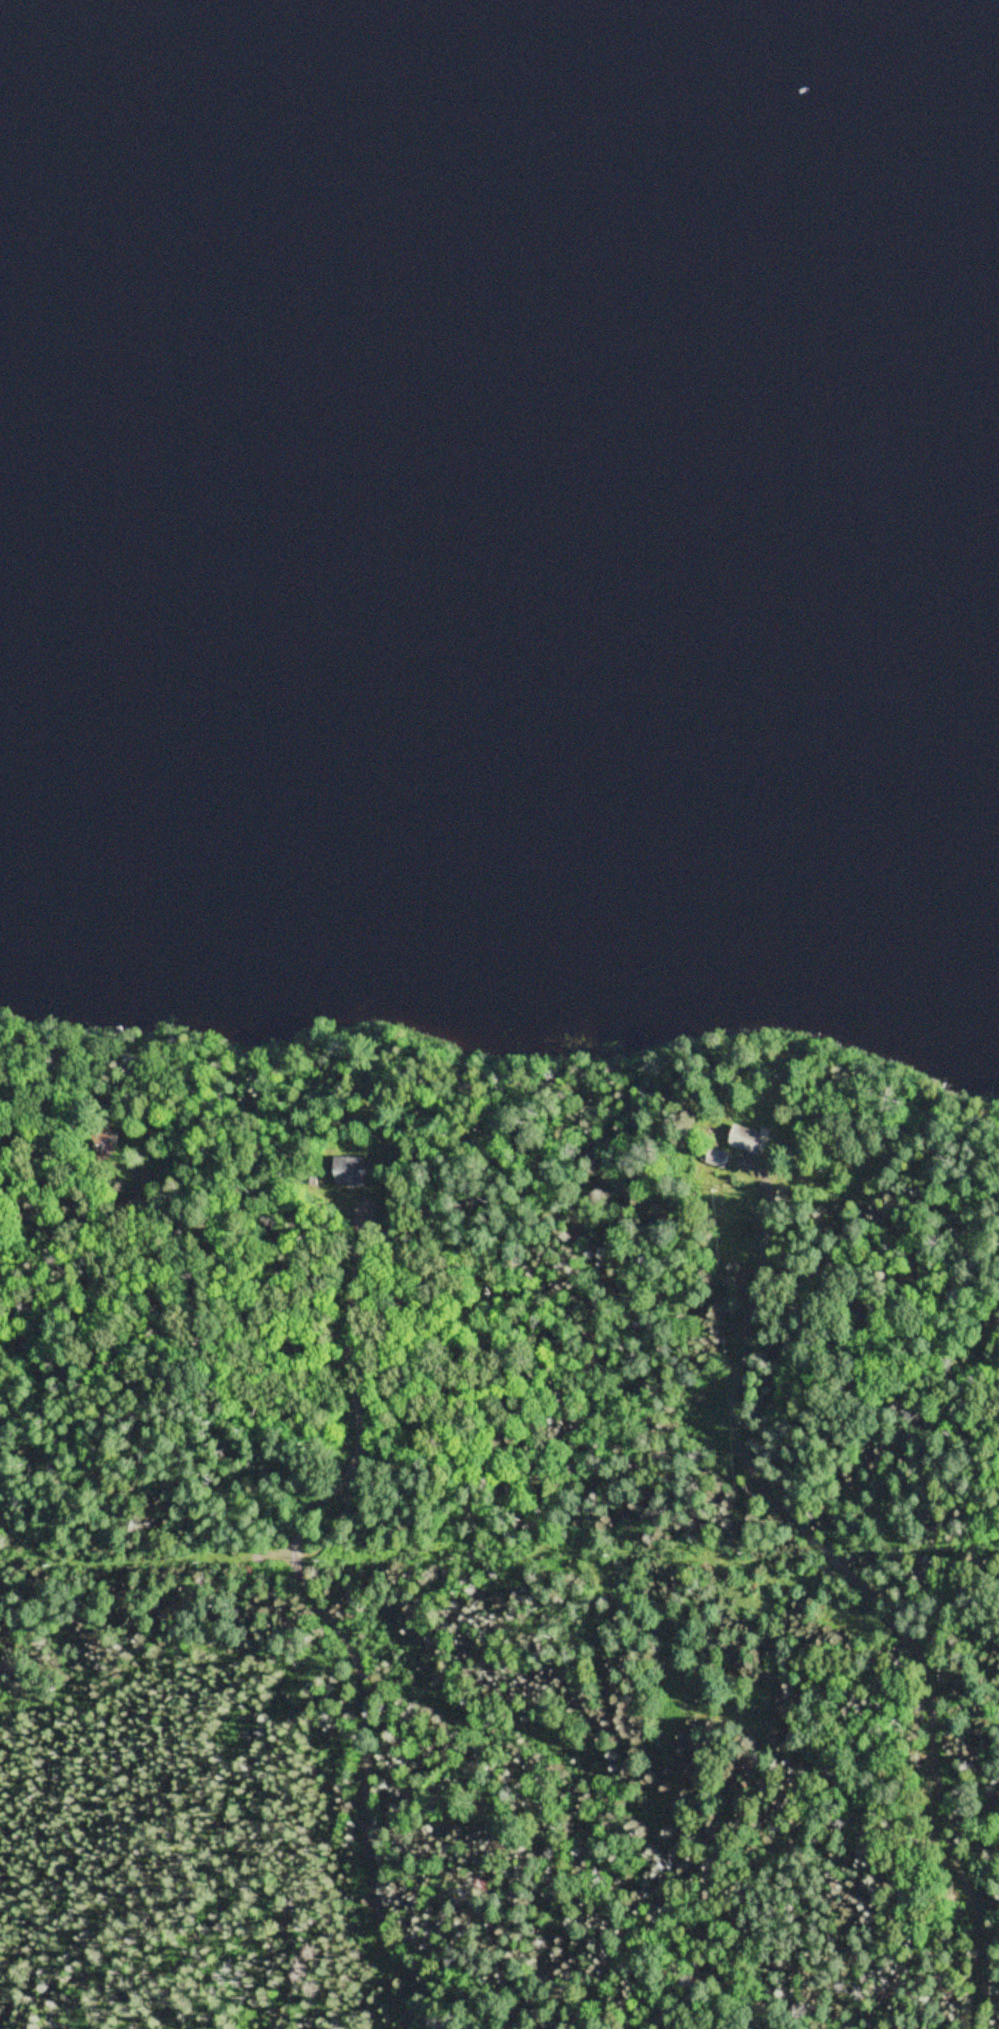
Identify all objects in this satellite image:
building: (745, 1138)
building: (715, 1156)
building: (350, 1164)
road: (158, 1635)
road: (823, 1639)

